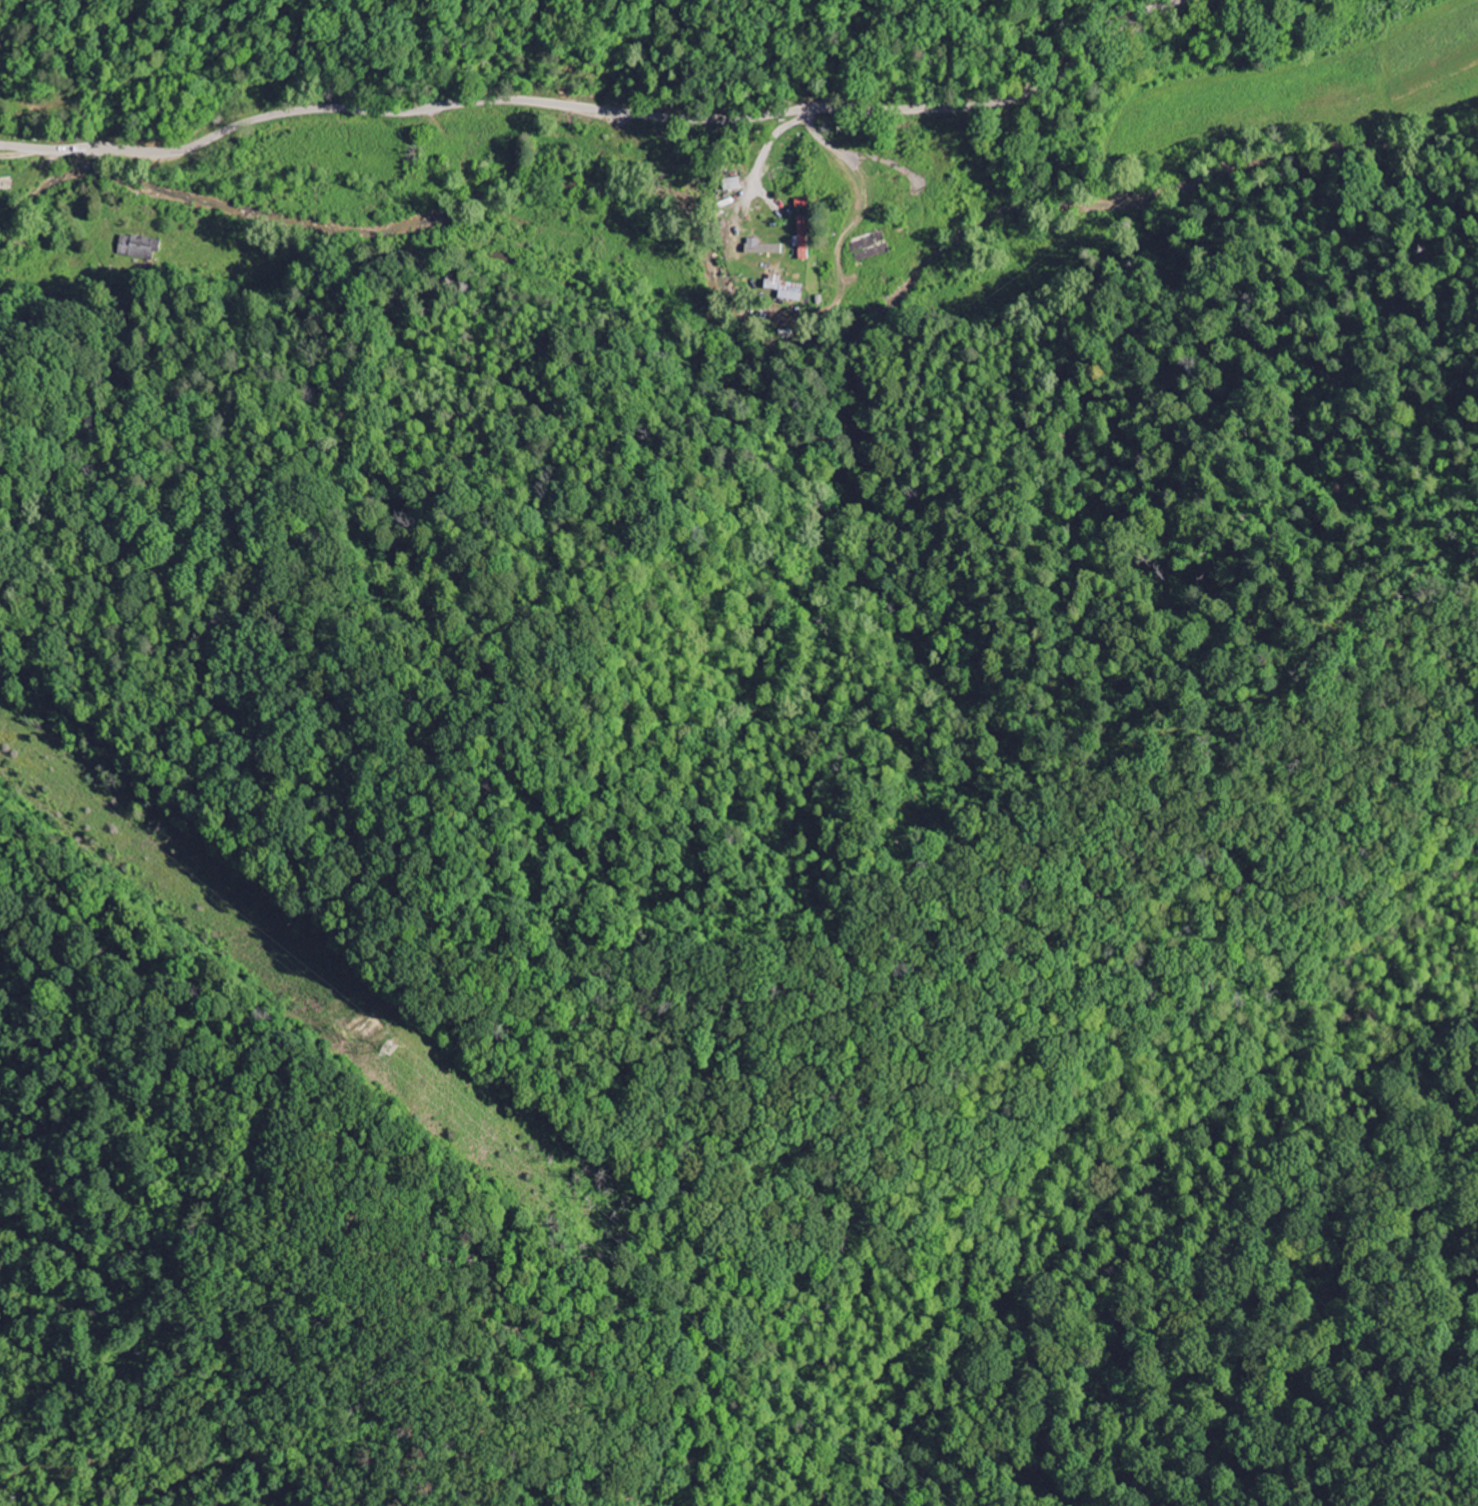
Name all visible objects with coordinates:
road: (603, 108)
road: (834, 146)
building: (803, 244)
building: (763, 247)
building: (783, 287)
power tower: (387, 1049)

